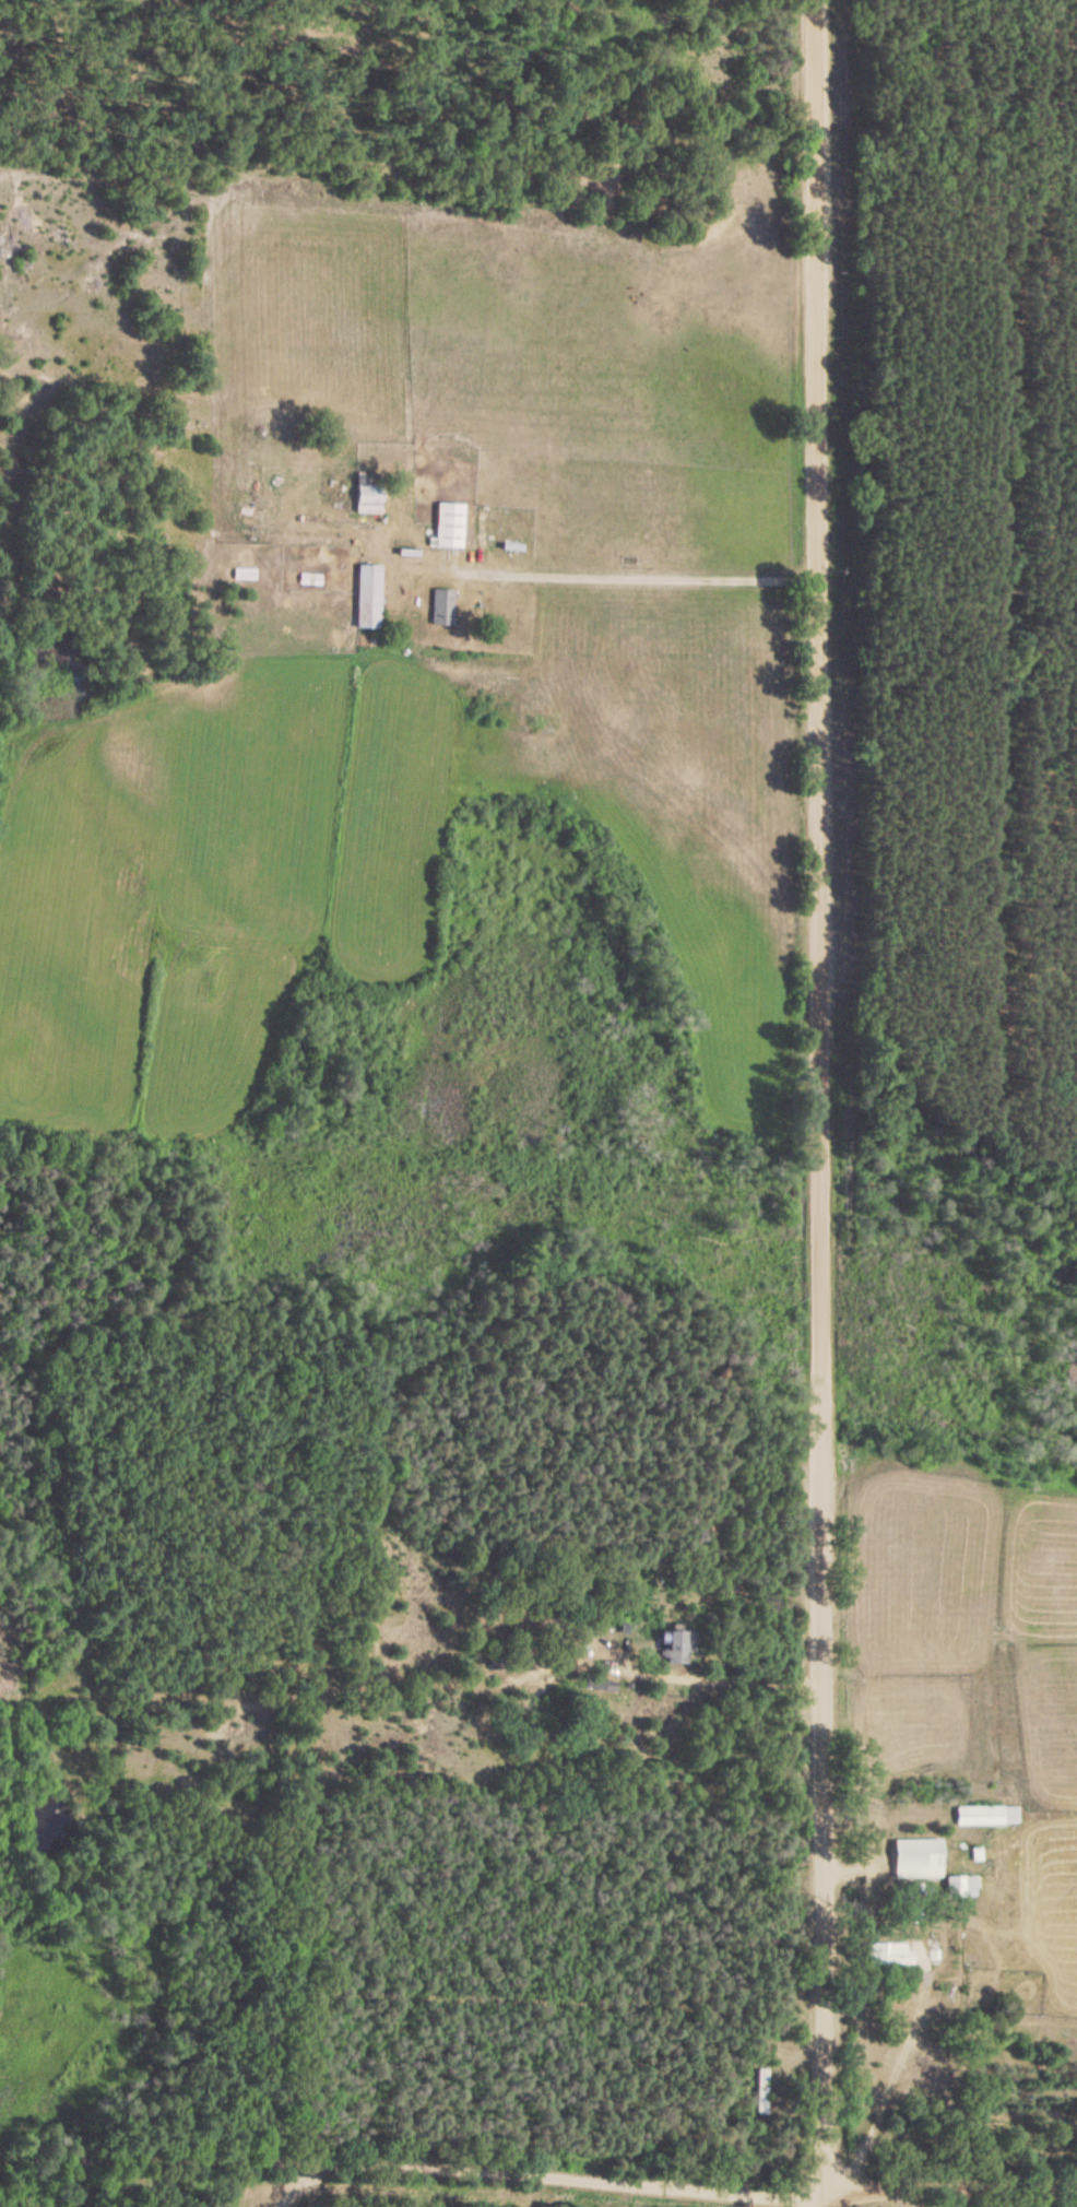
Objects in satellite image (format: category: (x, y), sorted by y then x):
building: (367, 500)
building: (447, 528)
building: (244, 577)
road: (648, 580)
building: (366, 598)
building: (440, 610)
road: (802, 1089)
building: (673, 1651)
building: (985, 1819)
building: (913, 1862)
building: (957, 1890)
building: (888, 1958)
building: (760, 2094)
road: (410, 2150)
road: (947, 2172)
road: (540, 2179)
road: (819, 2193)

